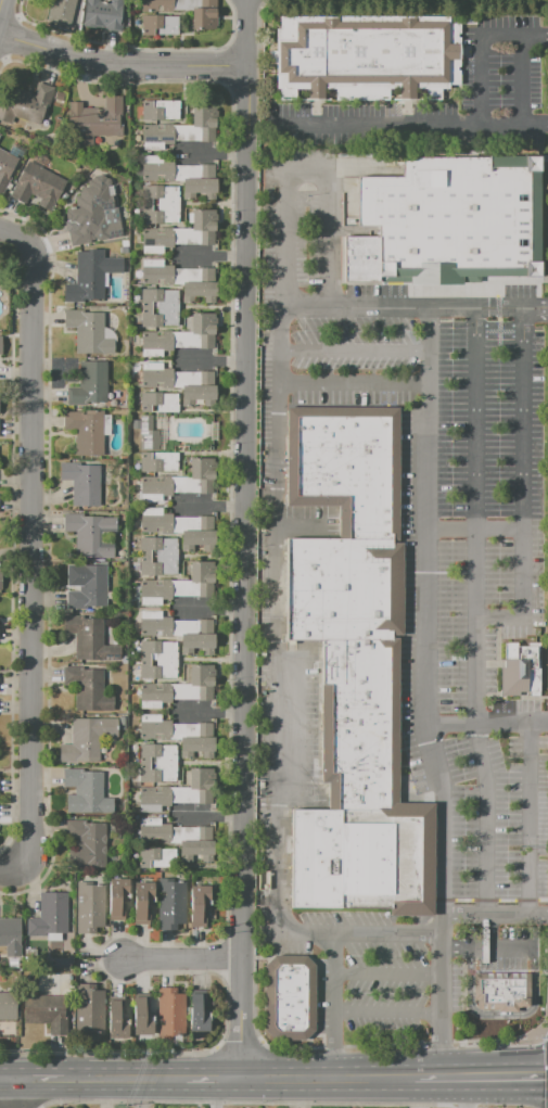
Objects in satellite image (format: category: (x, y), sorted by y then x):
road: (0, 1)
park: (392, 3)
building: (156, 5)
building: (197, 11)
building: (60, 12)
building: (103, 14)
building: (158, 25)
road: (481, 44)
building: (367, 56)
parking lot: (502, 60)
road: (122, 65)
road: (522, 78)
building: (31, 103)
building: (160, 109)
building: (94, 120)
building: (202, 124)
road: (411, 125)
building: (0, 133)
building: (164, 135)
road: (275, 138)
road: (212, 153)
road: (256, 157)
building: (7, 167)
road: (306, 167)
building: (161, 169)
building: (199, 180)
building: (37, 186)
building: (160, 194)
building: (91, 212)
building: (161, 213)
building: (459, 221)
building: (204, 226)
road: (283, 238)
road: (328, 238)
building: (164, 239)
road: (211, 255)
building: (364, 260)
building: (160, 273)
building: (90, 276)
building: (199, 283)
building: (160, 298)
road: (353, 308)
road: (474, 308)
road: (535, 308)
building: (160, 318)
building: (201, 328)
building: (88, 332)
building: (160, 342)
building: (0, 345)
road: (353, 352)
road: (212, 358)
building: (158, 377)
road: (352, 383)
building: (88, 385)
building: (197, 386)
building: (158, 402)
building: (86, 432)
building: (146, 433)
building: (158, 461)
building: (202, 476)
building: (82, 483)
building: (163, 487)
road: (522, 487)
road: (209, 506)
building: (158, 522)
road: (300, 526)
road: (473, 530)
building: (196, 532)
building: (89, 535)
road: (242, 537)
road: (31, 542)
building: (158, 547)
road: (276, 558)
building: (157, 565)
building: (197, 578)
building: (0, 580)
building: (86, 586)
building: (157, 591)
road: (209, 608)
parking lot: (408, 609)
building: (157, 625)
road: (475, 627)
building: (196, 635)
building: (89, 640)
building: (158, 650)
building: (353, 666)
building: (520, 668)
building: (158, 670)
building: (200, 684)
building: (87, 689)
road: (423, 692)
building: (157, 695)
road: (485, 721)
building: (158, 728)
building: (195, 738)
building: (87, 739)
building: (157, 754)
building: (157, 773)
building: (199, 788)
building: (87, 792)
building: (157, 799)
building: (190, 806)
road: (528, 816)
building: (157, 832)
building: (199, 842)
building: (87, 844)
building: (154, 856)
road: (11, 866)
building: (117, 897)
road: (278, 899)
building: (142, 902)
building: (170, 904)
building: (199, 904)
building: (89, 907)
road: (495, 913)
building: (49, 915)
road: (388, 933)
building: (10, 935)
road: (488, 947)
road: (181, 957)
road: (387, 976)
road: (547, 989)
building: (501, 990)
building: (290, 997)
road: (333, 1004)
building: (8, 1006)
building: (88, 1009)
building: (46, 1011)
building: (170, 1013)
road: (387, 1013)
building: (199, 1015)
building: (141, 1016)
building: (118, 1018)
road: (547, 1024)
road: (256, 1032)
road: (544, 1034)
road: (504, 1039)
road: (438, 1042)
road: (384, 1044)
road: (333, 1046)
road: (547, 1073)
road: (269, 1075)
road: (356, 1075)
road: (428, 1075)
road: (454, 1075)
road: (507, 1075)
road: (125, 1077)
road: (213, 1077)
road: (39, 1078)
road: (7, 1079)
road: (214, 1092)
road: (298, 1092)
road: (422, 1092)
road: (467, 1092)
road: (13, 1093)
road: (283, 1103)
road: (25, 1104)

